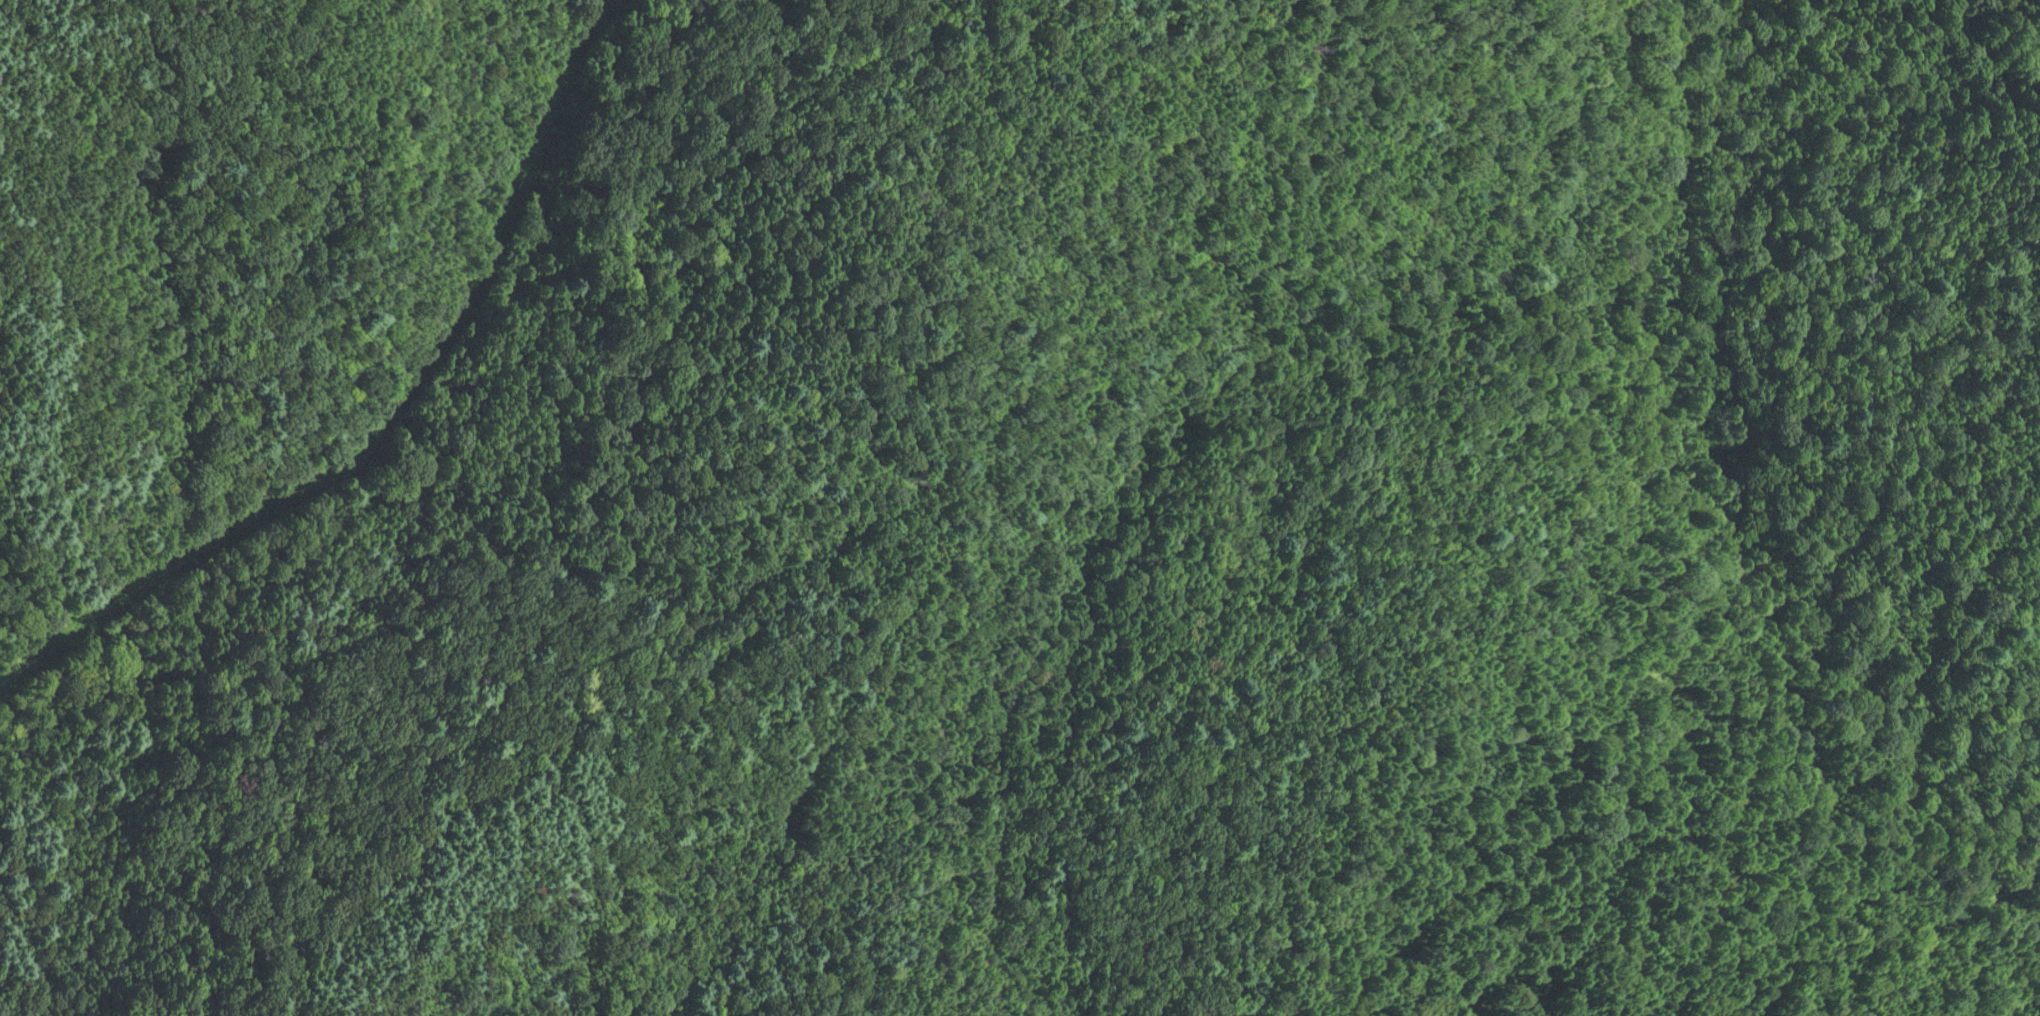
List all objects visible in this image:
park: (818, 77)

